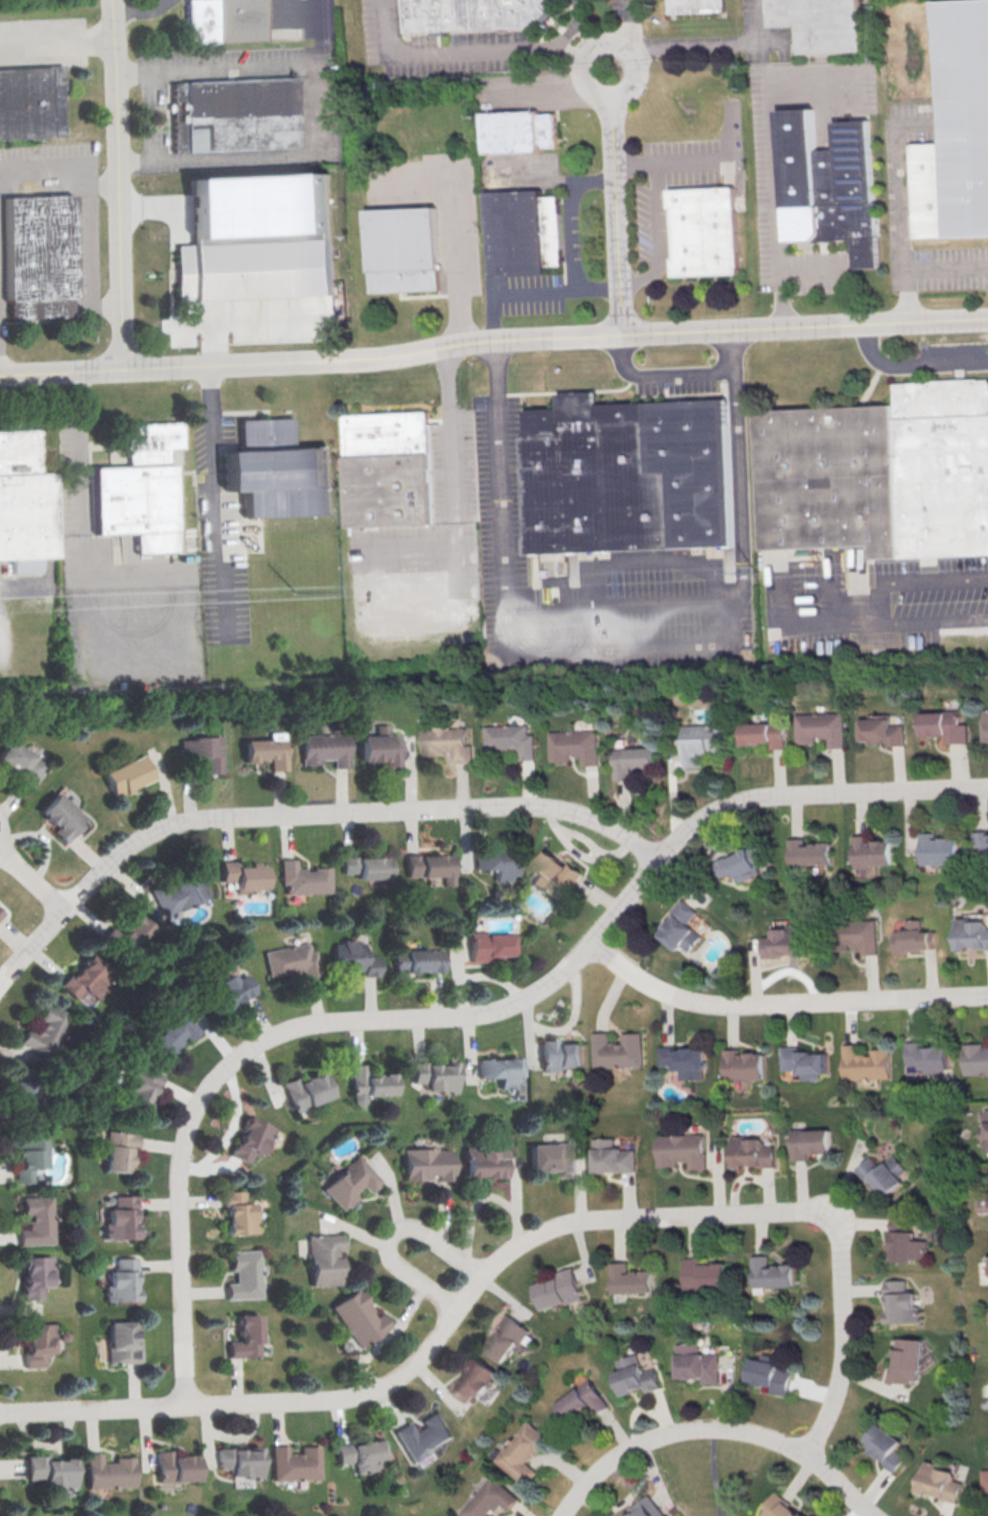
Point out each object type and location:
building: (702, 7)
road: (137, 10)
building: (477, 16)
building: (221, 21)
road: (759, 22)
road: (585, 23)
building: (826, 23)
road: (631, 24)
road: (57, 41)
road: (609, 41)
road: (708, 46)
road: (462, 52)
building: (30, 103)
road: (321, 108)
building: (234, 115)
building: (521, 131)
building: (958, 132)
road: (671, 160)
road: (774, 162)
road: (119, 183)
building: (833, 186)
road: (84, 213)
road: (616, 213)
road: (455, 226)
building: (708, 231)
building: (525, 232)
road: (568, 237)
road: (656, 237)
building: (405, 251)
building: (37, 258)
road: (923, 269)
road: (811, 271)
building: (255, 272)
road: (513, 292)
road: (249, 321)
road: (493, 339)
road: (909, 367)
road: (656, 376)
road: (208, 418)
road: (449, 428)
building: (267, 434)
road: (79, 444)
building: (390, 469)
building: (880, 473)
building: (630, 476)
building: (282, 482)
building: (142, 489)
building: (25, 499)
road: (215, 549)
road: (648, 562)
power tower: (808, 574)
road: (830, 592)
power tower: (261, 597)
road: (871, 604)
road: (621, 605)
road: (804, 623)
road: (626, 644)
building: (986, 723)
building: (944, 725)
building: (819, 728)
building: (882, 730)
building: (763, 734)
building: (509, 740)
building: (448, 743)
building: (699, 743)
building: (573, 745)
building: (379, 746)
building: (324, 748)
building: (266, 750)
building: (202, 751)
building: (631, 760)
building: (21, 762)
building: (127, 775)
road: (299, 815)
building: (62, 816)
building: (982, 838)
building: (939, 849)
building: (871, 850)
building: (809, 852)
building: (499, 863)
building: (741, 863)
building: (431, 866)
building: (367, 867)
building: (241, 874)
building: (554, 874)
road: (34, 877)
building: (303, 878)
building: (178, 890)
building: (1, 912)
building: (681, 927)
building: (972, 933)
building: (853, 934)
building: (131, 935)
building: (916, 936)
building: (784, 940)
building: (489, 944)
building: (353, 959)
building: (291, 960)
building: (418, 960)
building: (83, 980)
building: (227, 989)
road: (780, 1002)
road: (468, 1013)
building: (46, 1031)
building: (173, 1032)
building: (617, 1050)
building: (559, 1054)
building: (930, 1056)
building: (976, 1058)
building: (803, 1060)
building: (682, 1061)
building: (867, 1063)
building: (743, 1064)
building: (501, 1071)
building: (434, 1076)
building: (366, 1083)
building: (140, 1087)
building: (19, 1091)
building: (305, 1091)
building: (985, 1129)
building: (249, 1139)
building: (809, 1142)
building: (682, 1149)
building: (116, 1150)
building: (28, 1152)
building: (753, 1152)
building: (613, 1156)
building: (550, 1157)
building: (483, 1161)
building: (425, 1163)
building: (885, 1173)
building: (350, 1182)
building: (237, 1213)
building: (118, 1218)
building: (34, 1220)
road: (393, 1237)
building: (908, 1241)
road: (511, 1249)
building: (323, 1259)
building: (986, 1265)
building: (774, 1273)
building: (244, 1274)
building: (706, 1274)
building: (32, 1275)
building: (634, 1279)
building: (119, 1281)
building: (562, 1289)
building: (903, 1302)
building: (356, 1317)
building: (245, 1337)
building: (509, 1337)
building: (34, 1342)
building: (120, 1343)
building: (907, 1360)
building: (697, 1362)
building: (771, 1374)
building: (637, 1376)
building: (477, 1380)
building: (583, 1400)
road: (716, 1429)
building: (423, 1435)
building: (887, 1445)
building: (522, 1452)
building: (361, 1455)
building: (238, 1462)
building: (294, 1463)
building: (173, 1467)
building: (107, 1471)
building: (49, 1472)
road: (715, 1472)
building: (941, 1481)
building: (985, 1483)
building: (489, 1498)
building: (784, 1507)
building: (644, 1508)

